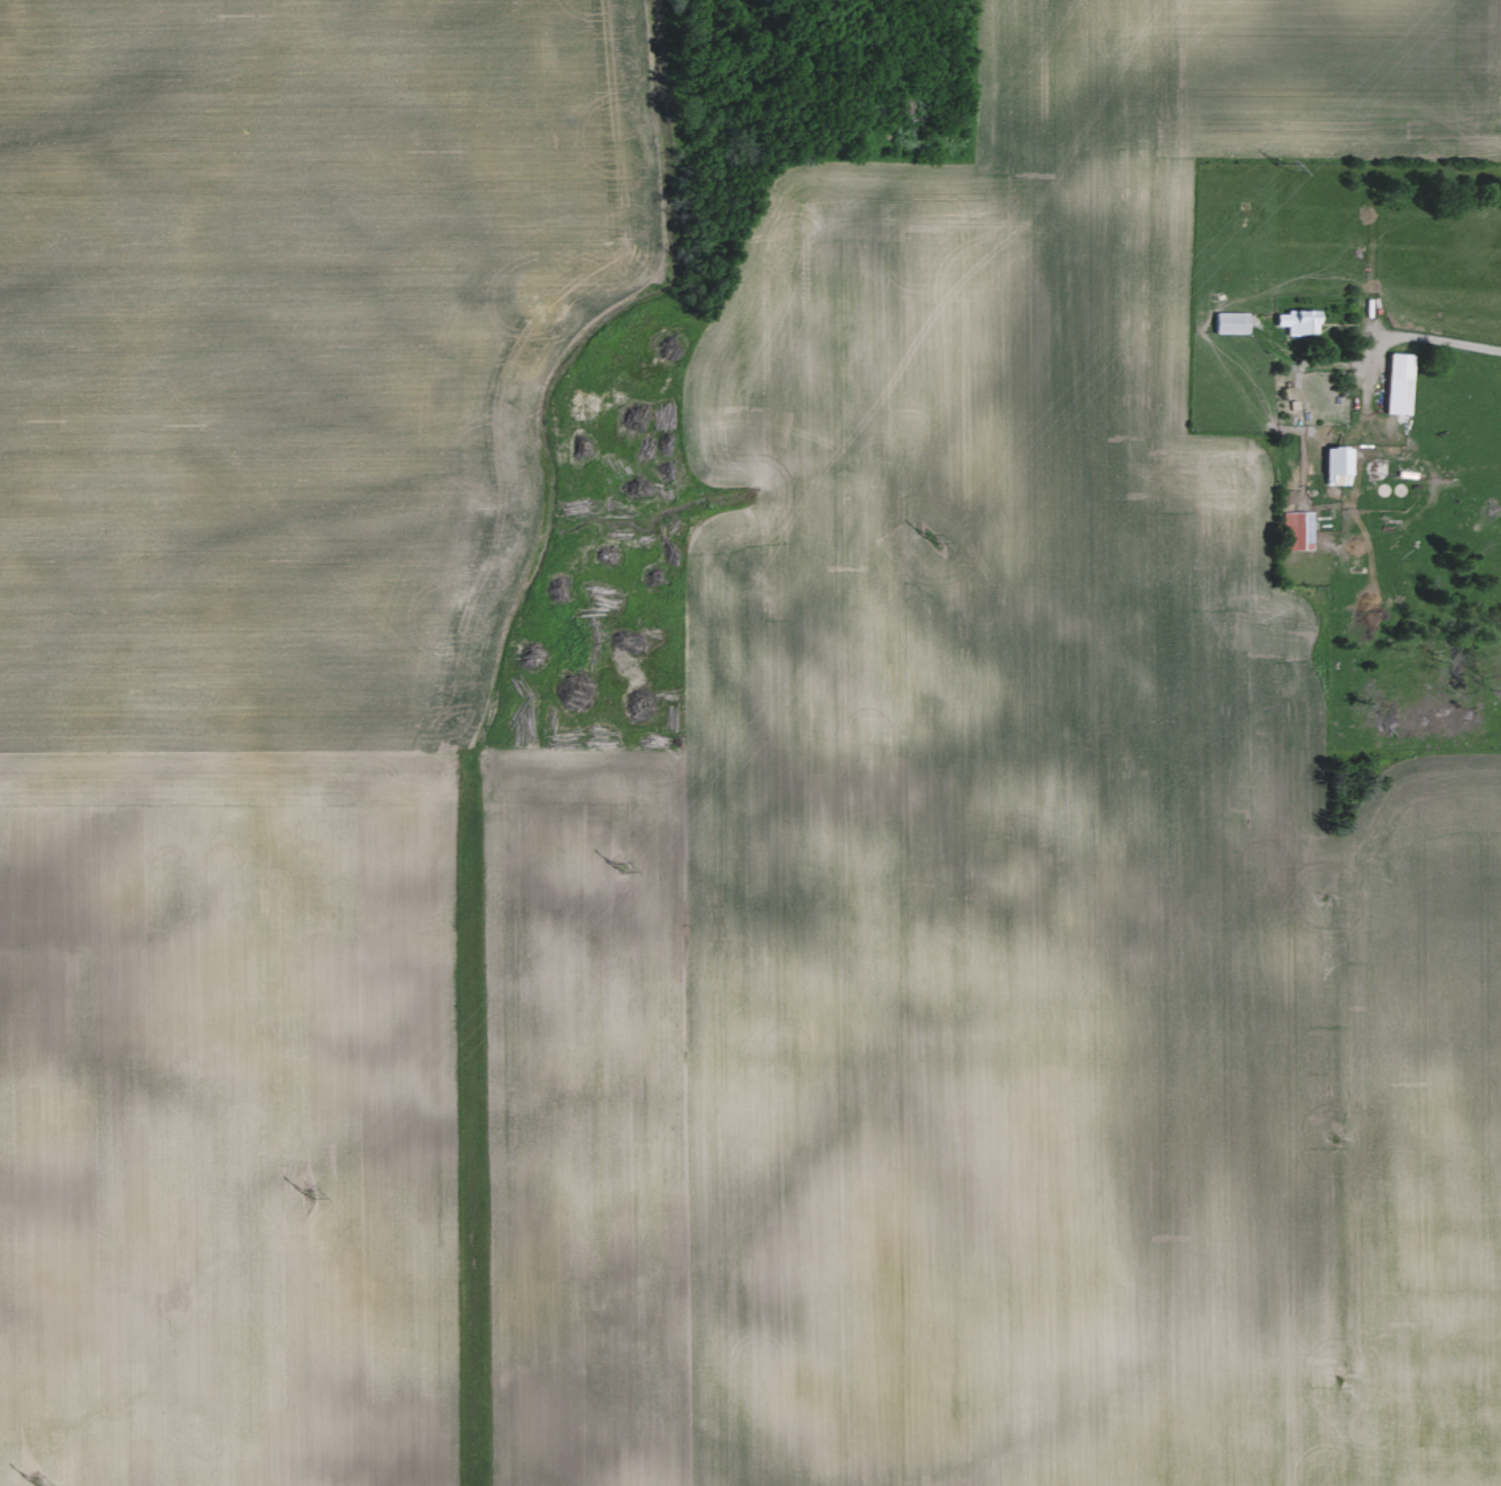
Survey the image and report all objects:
power tower: (1290, 162)
building: (1232, 322)
road: (1311, 365)
building: (1401, 383)
road: (1362, 431)
building: (1340, 463)
building: (1299, 529)
power tower: (932, 538)
power tower: (617, 869)
power tower: (307, 1194)
power tower: (34, 1482)

